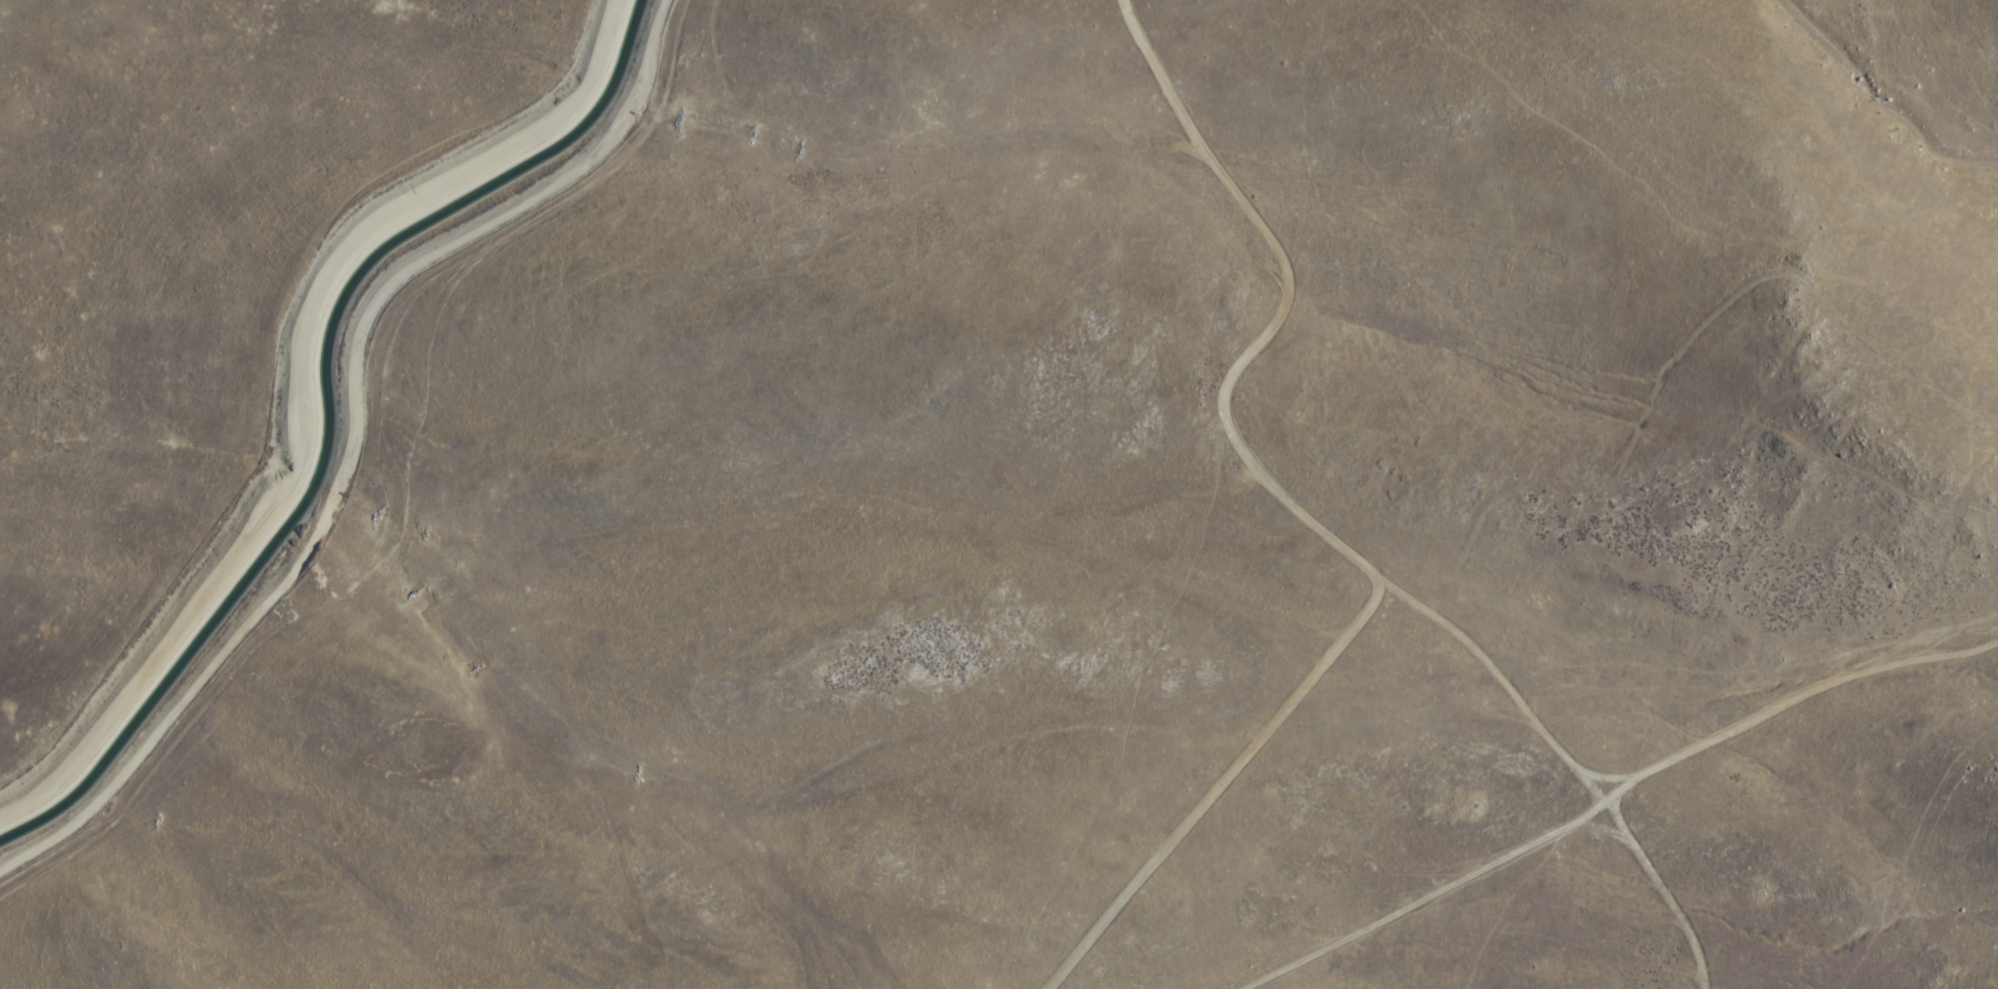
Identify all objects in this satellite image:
road: (496, 40)
road: (1229, 418)
road: (1573, 738)

